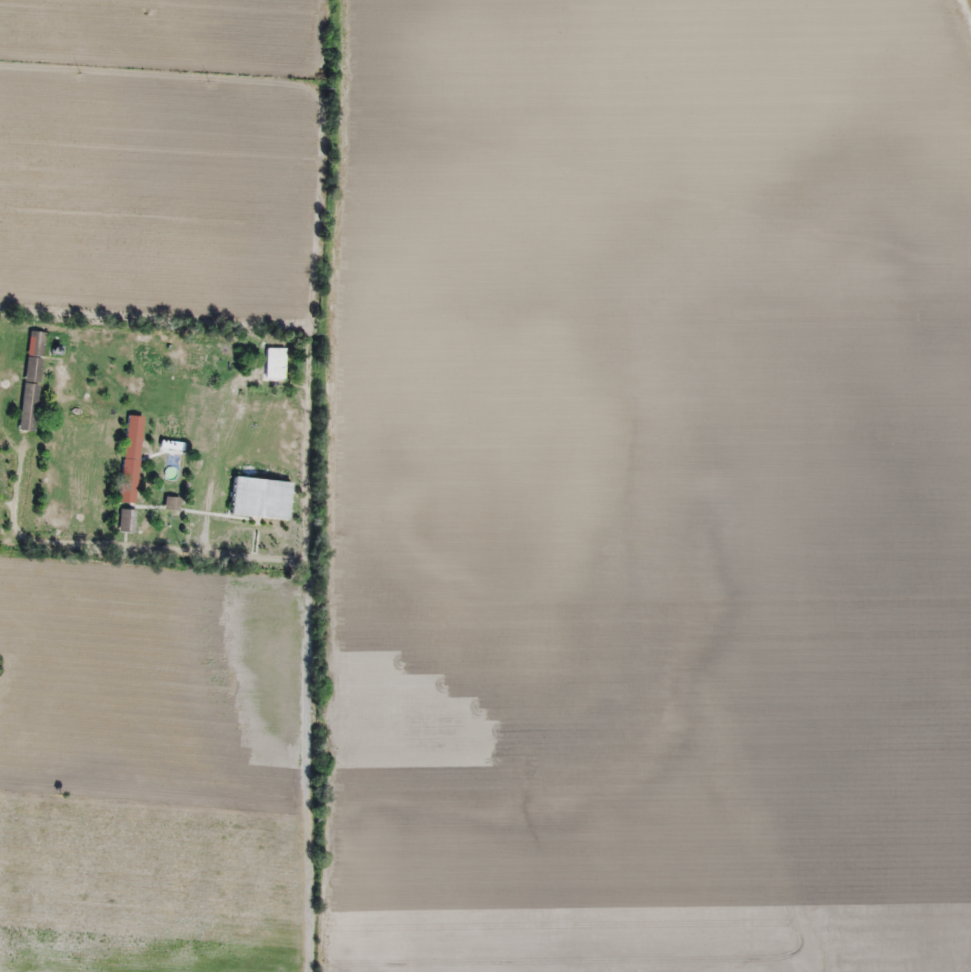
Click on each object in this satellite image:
road: (310, 485)
building: (255, 498)

